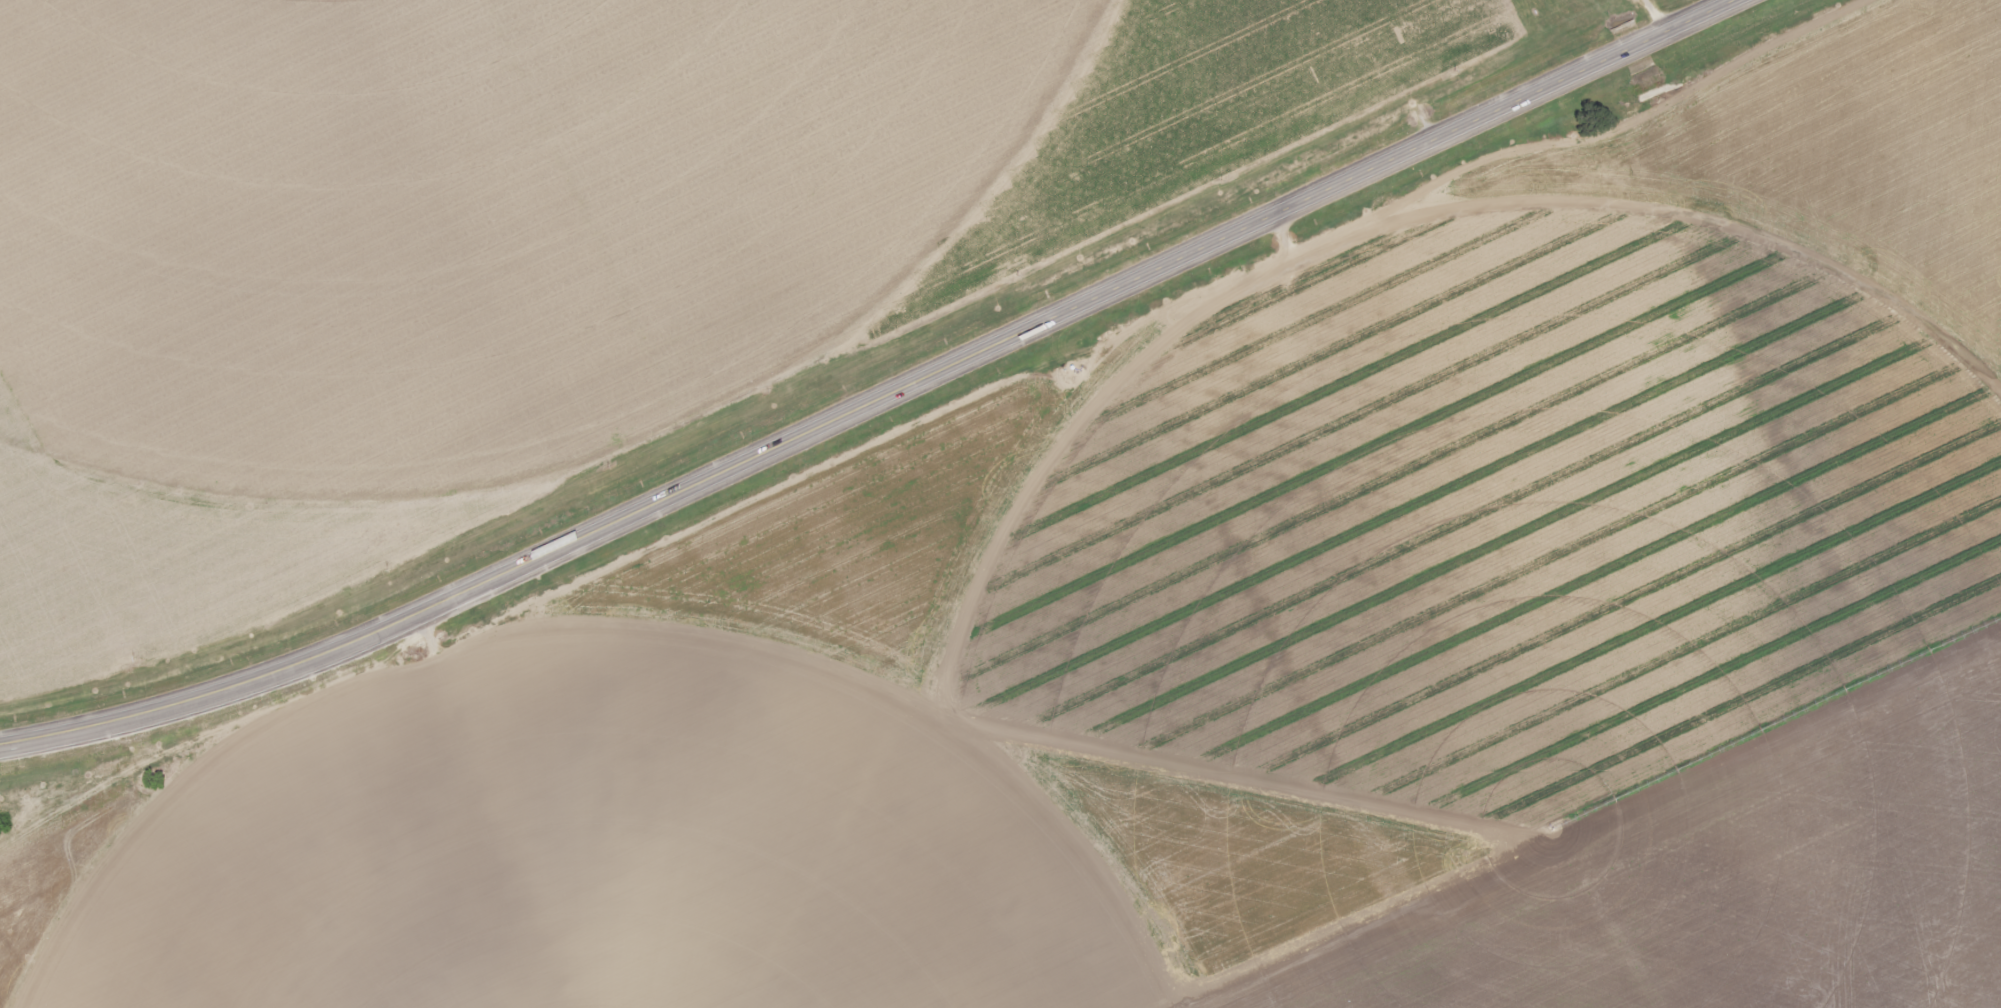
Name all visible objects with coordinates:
road: (878, 400)
road: (523, 808)

